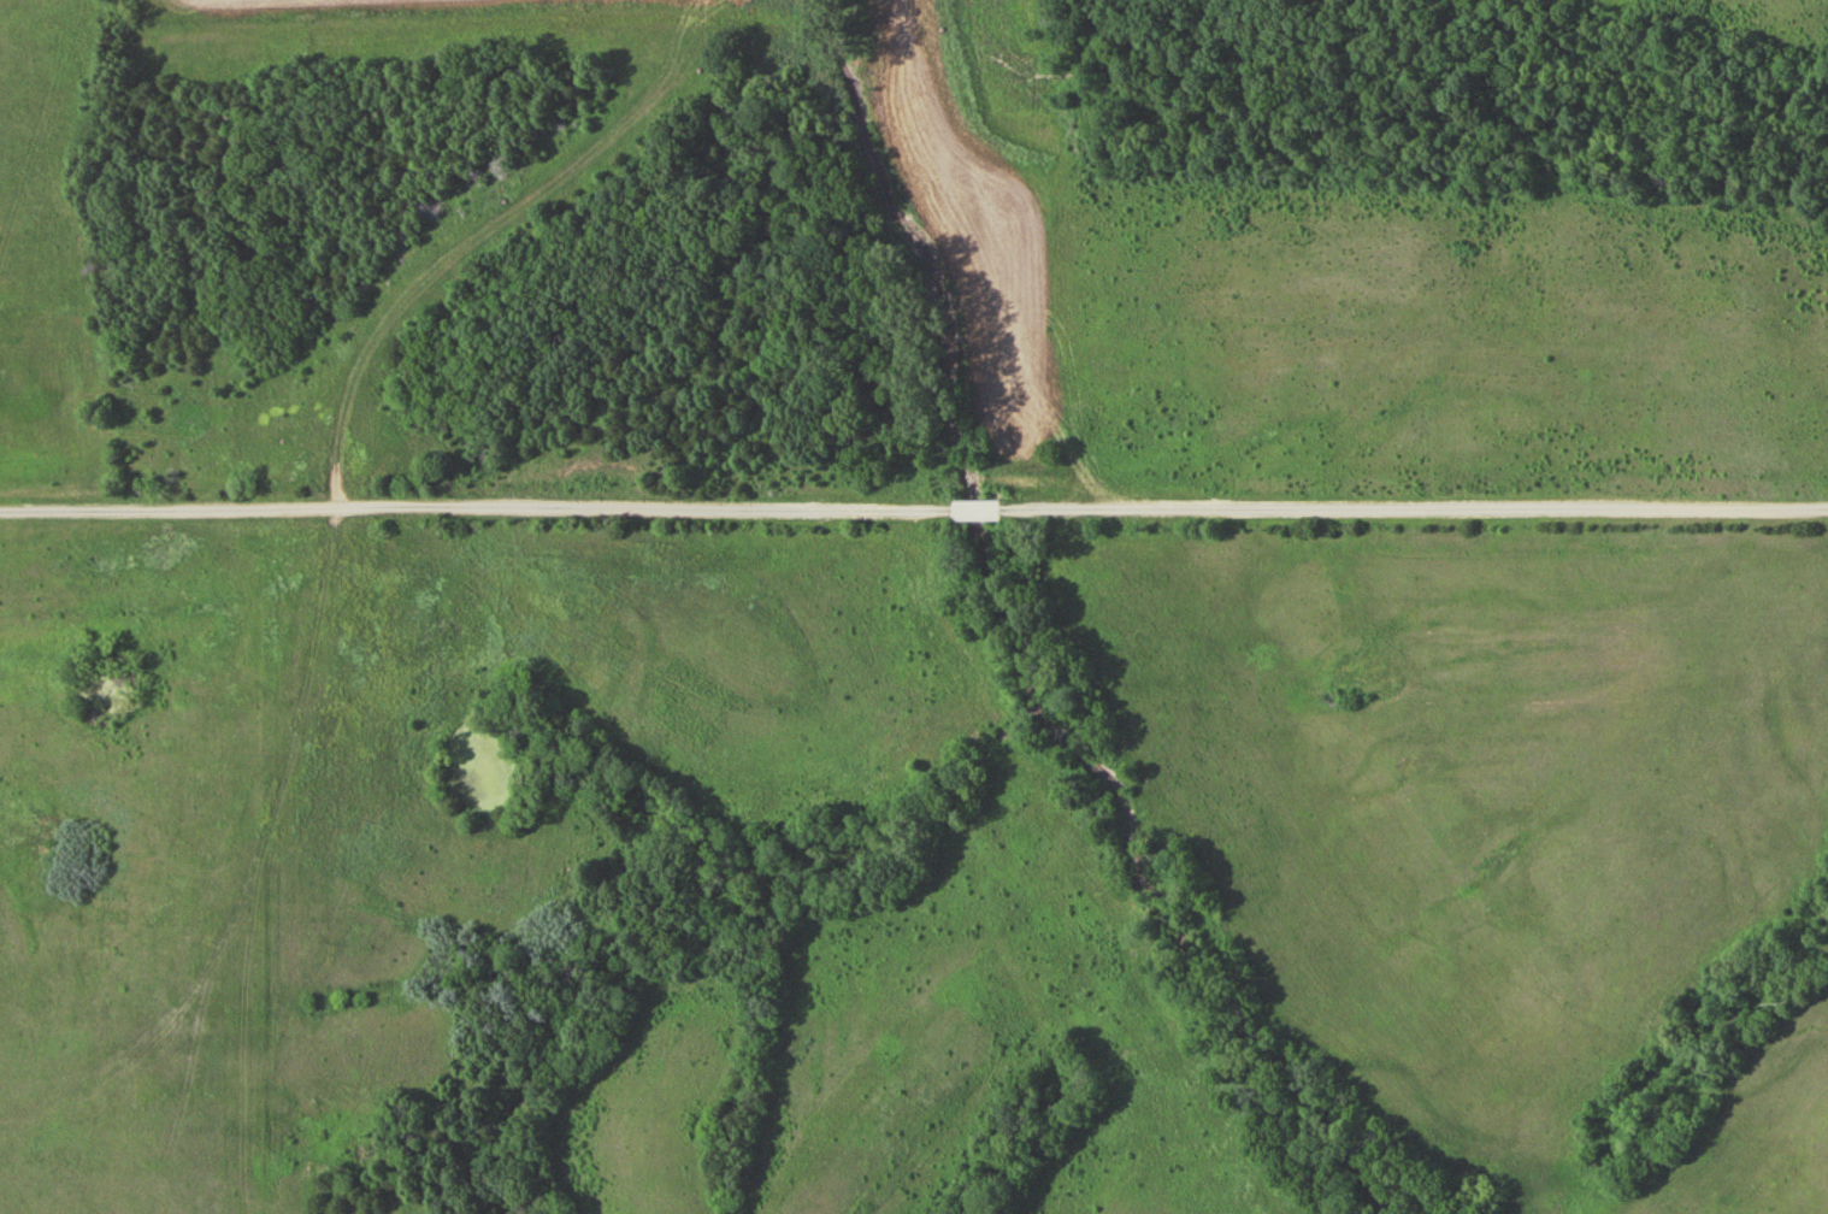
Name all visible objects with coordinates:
road: (913, 508)
building: (978, 512)

